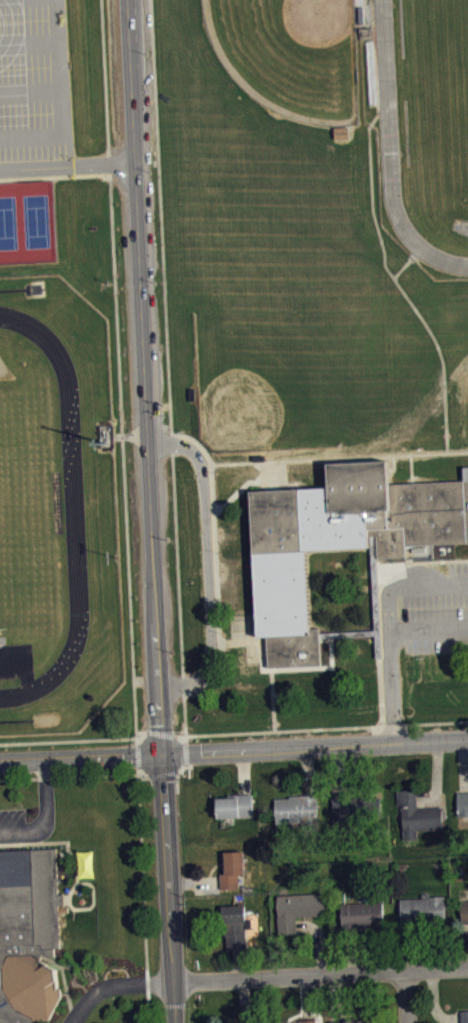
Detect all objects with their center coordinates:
building: (360, 14)
road: (29, 41)
park: (292, 53)
parking lot: (34, 80)
road: (30, 90)
track: (388, 93)
road: (60, 98)
building: (341, 131)
road: (67, 165)
road: (55, 175)
road: (371, 195)
park: (36, 220)
park: (7, 222)
road: (162, 242)
road: (436, 344)
park: (302, 354)
road: (118, 367)
road: (145, 376)
park: (461, 391)
road: (457, 451)
road: (429, 453)
road: (411, 458)
track: (73, 503)
park: (23, 508)
road: (213, 508)
building: (339, 539)
road: (451, 560)
road: (177, 563)
road: (207, 563)
road: (427, 579)
parking lot: (434, 606)
road: (428, 625)
road: (389, 664)
road: (379, 691)
road: (424, 722)
road: (158, 732)
road: (226, 732)
road: (70, 739)
road: (234, 749)
road: (137, 754)
traffic signals: (161, 754)
road: (180, 754)
road: (158, 774)
road: (68, 775)
building: (462, 801)
building: (234, 805)
building: (296, 808)
building: (355, 808)
road: (42, 810)
building: (416, 813)
parking lot: (12, 817)
building: (232, 869)
road: (142, 873)
road: (194, 882)
road: (169, 888)
building: (298, 910)
building: (421, 910)
building: (464, 911)
building: (361, 914)
building: (234, 925)
building: (28, 934)
road: (319, 942)
road: (411, 948)
road: (351, 950)
road: (237, 964)
road: (321, 974)
road: (116, 986)
road: (407, 996)
road: (306, 997)
road: (335, 997)
road: (148, 999)
road: (244, 1000)
road: (434, 1003)
building: (464, 1016)
building: (306, 1020)
building: (248, 1021)
building: (349, 1021)

